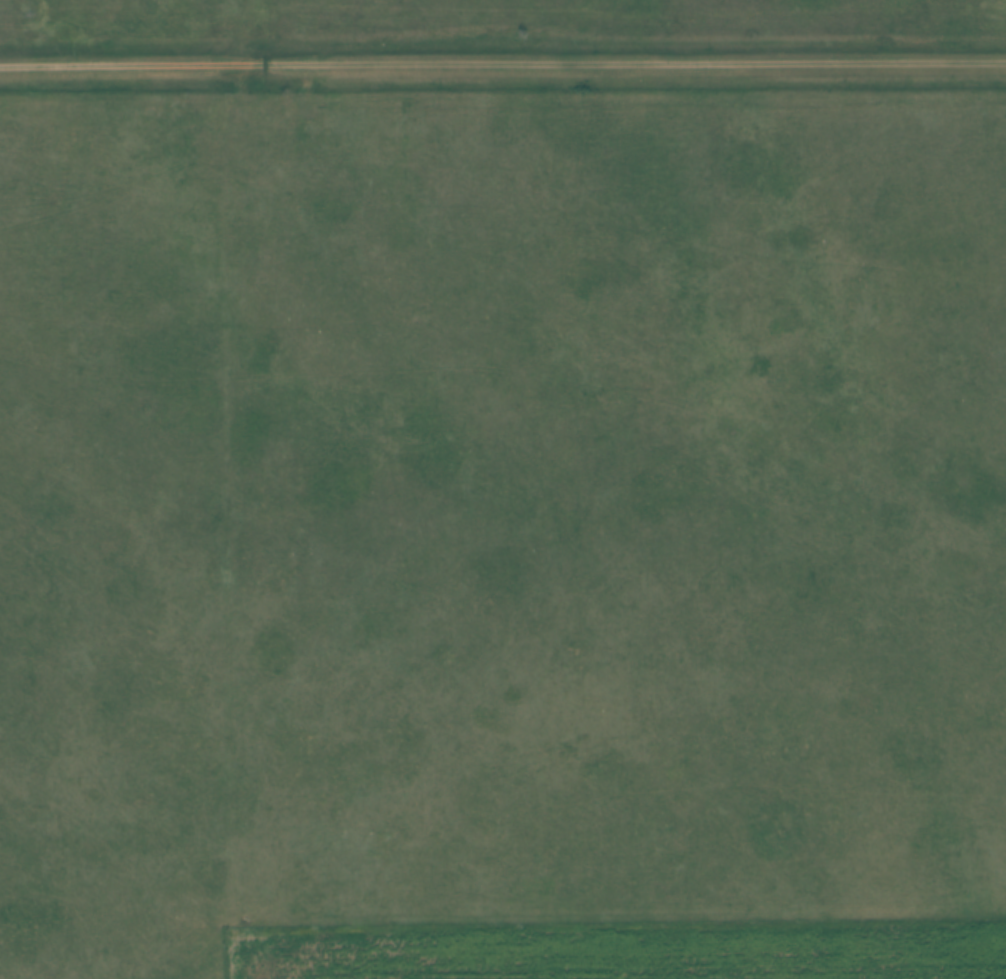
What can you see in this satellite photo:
road: (502, 61)

